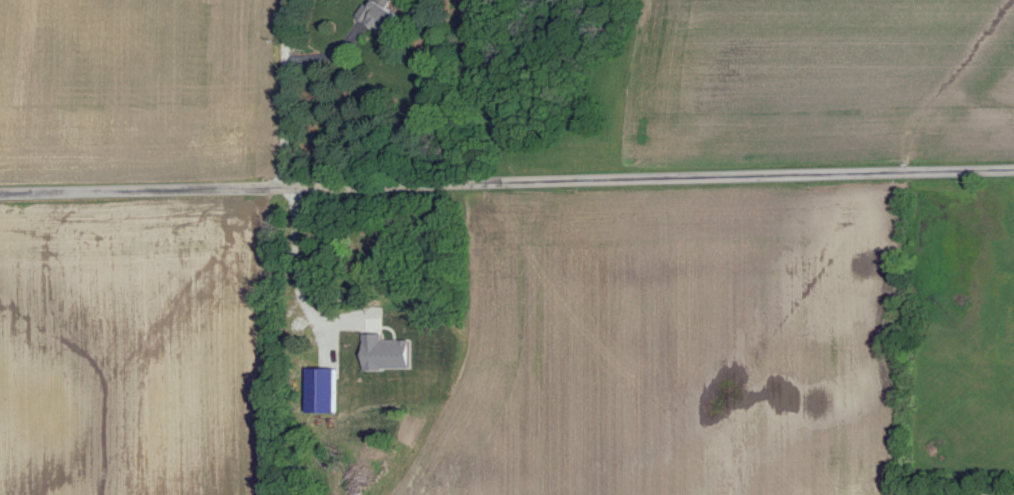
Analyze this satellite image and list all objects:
building: (377, 15)
road: (327, 53)
crop: (798, 82)
crop: (137, 91)
road: (285, 93)
road: (506, 181)
building: (383, 353)
building: (319, 390)

